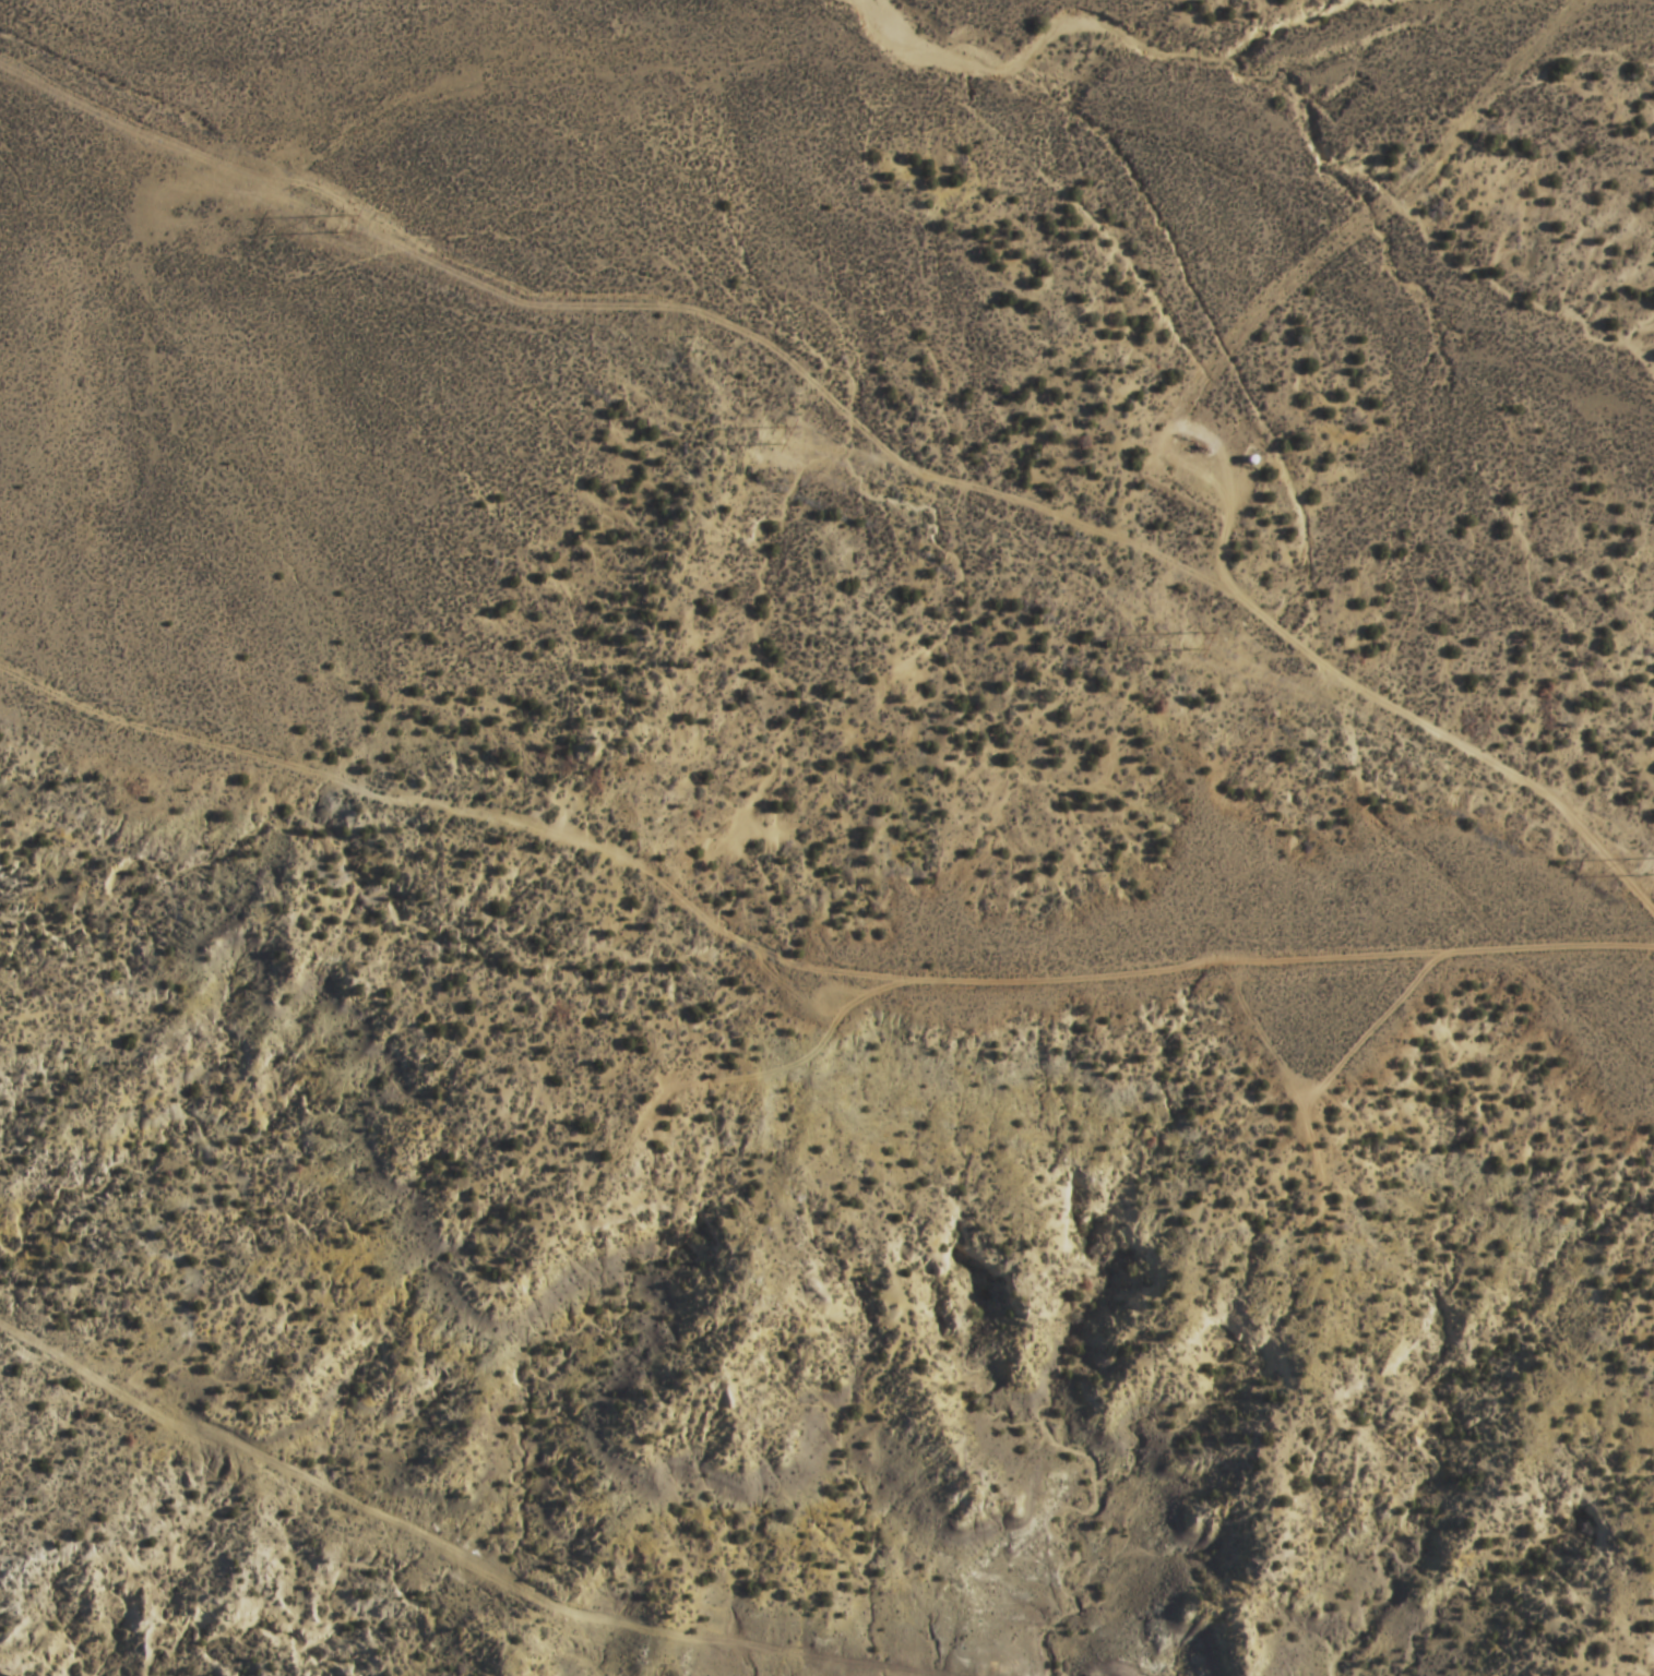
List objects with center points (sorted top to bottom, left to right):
power tower: (335, 220)
power tower: (754, 431)
power tower: (1182, 636)
power tower: (1643, 862)
road: (805, 934)

